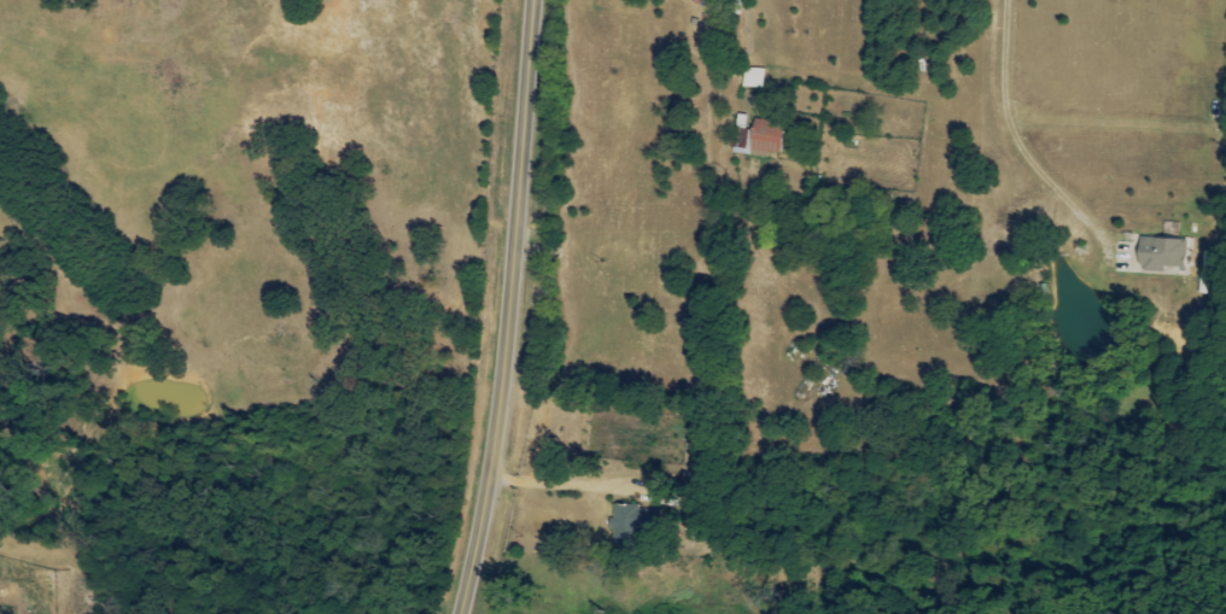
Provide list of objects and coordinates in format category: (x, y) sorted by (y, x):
road: (747, 28)
building: (753, 78)
road: (1012, 135)
building: (759, 139)
building: (1161, 252)
road: (510, 308)
road: (564, 483)
building: (629, 520)

